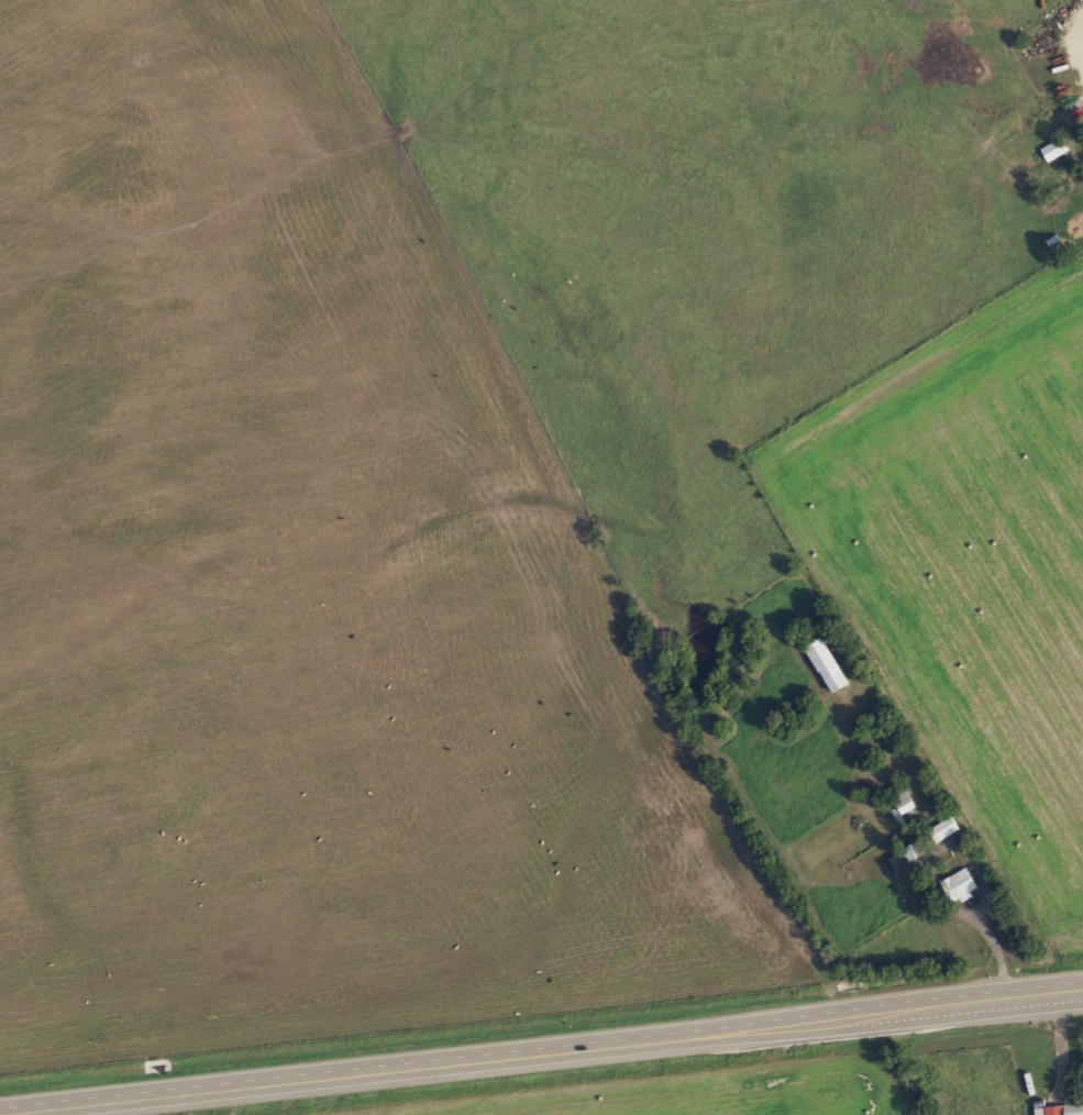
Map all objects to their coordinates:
building: (1057, 148)
building: (828, 665)
building: (903, 798)
building: (946, 830)
building: (915, 851)
building: (960, 886)
road: (541, 1049)
building: (1064, 1110)

